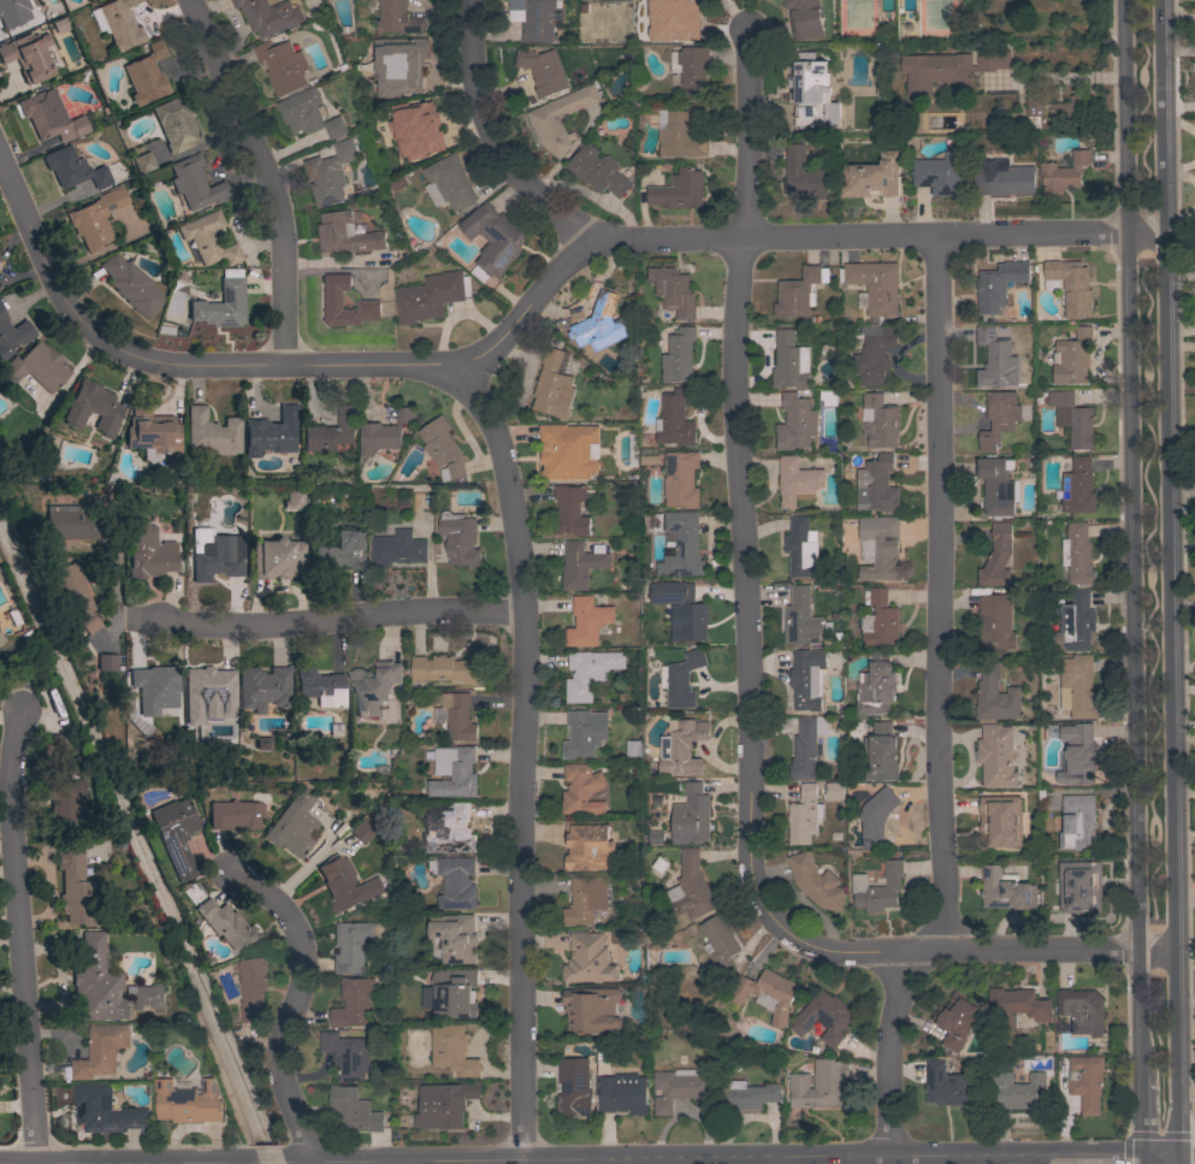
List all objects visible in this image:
building: (587, 0)
building: (13, 12)
building: (268, 16)
building: (398, 18)
building: (536, 18)
building: (804, 18)
building: (673, 20)
building: (120, 24)
building: (28, 57)
building: (398, 65)
building: (283, 66)
building: (691, 69)
building: (948, 70)
building: (543, 71)
building: (147, 75)
road: (1069, 78)
building: (812, 93)
building: (1034, 101)
building: (1066, 107)
building: (307, 114)
building: (49, 117)
building: (560, 118)
building: (176, 124)
building: (422, 125)
building: (684, 132)
road: (487, 138)
building: (143, 164)
building: (72, 170)
building: (597, 171)
building: (330, 173)
building: (804, 173)
building: (939, 173)
building: (1063, 173)
road: (265, 175)
building: (870, 177)
building: (1002, 178)
building: (195, 183)
building: (448, 183)
building: (679, 190)
building: (95, 219)
building: (345, 234)
building: (208, 240)
building: (492, 241)
road: (603, 242)
road: (41, 258)
building: (998, 284)
building: (131, 286)
building: (874, 286)
building: (1069, 286)
building: (673, 290)
building: (798, 293)
building: (431, 296)
building: (367, 305)
building: (220, 306)
building: (598, 324)
building: (12, 335)
building: (679, 355)
building: (995, 356)
building: (1071, 356)
building: (874, 358)
building: (789, 361)
building: (37, 367)
building: (551, 385)
building: (828, 397)
building: (93, 409)
building: (999, 418)
building: (1071, 418)
building: (675, 419)
building: (878, 421)
building: (795, 423)
building: (150, 431)
building: (331, 432)
building: (384, 432)
building: (212, 433)
building: (272, 433)
building: (443, 450)
building: (567, 451)
road: (738, 478)
building: (681, 479)
building: (797, 480)
building: (876, 485)
building: (995, 485)
building: (1077, 488)
building: (294, 500)
building: (572, 509)
building: (652, 522)
building: (76, 525)
building: (459, 538)
road: (1134, 538)
building: (681, 545)
building: (878, 546)
building: (800, 548)
building: (397, 549)
building: (342, 551)
building: (148, 554)
building: (1077, 554)
building: (996, 557)
building: (277, 559)
building: (217, 560)
building: (580, 565)
road: (1167, 578)
road: (937, 593)
building: (73, 595)
building: (694, 609)
building: (801, 618)
road: (337, 619)
building: (878, 619)
building: (587, 621)
building: (995, 622)
building: (1075, 622)
building: (1, 640)
building: (106, 663)
building: (445, 668)
building: (590, 673)
building: (807, 679)
building: (681, 680)
building: (209, 683)
building: (152, 685)
building: (876, 685)
building: (1078, 686)
building: (262, 687)
building: (320, 687)
building: (372, 690)
building: (995, 698)
building: (459, 716)
building: (582, 734)
building: (51, 744)
building: (807, 745)
building: (682, 748)
building: (633, 749)
building: (880, 754)
building: (996, 756)
building: (1081, 756)
road: (521, 761)
building: (452, 772)
building: (581, 790)
building: (834, 791)
building: (1028, 798)
building: (64, 804)
building: (235, 815)
building: (691, 815)
building: (804, 815)
building: (876, 817)
building: (993, 822)
building: (1078, 823)
building: (292, 827)
building: (367, 827)
building: (449, 831)
building: (176, 835)
building: (587, 845)
building: (456, 882)
building: (815, 882)
building: (348, 887)
building: (691, 887)
building: (877, 887)
building: (1079, 887)
building: (1005, 890)
building: (77, 892)
building: (585, 900)
building: (226, 926)
building: (455, 936)
road: (19, 939)
building: (353, 945)
building: (718, 947)
road: (971, 952)
building: (587, 959)
building: (97, 983)
building: (252, 987)
building: (454, 993)
building: (767, 994)
building: (147, 997)
building: (353, 1003)
road: (294, 1004)
building: (1016, 1006)
building: (591, 1010)
building: (1082, 1010)
building: (823, 1017)
building: (957, 1018)
building: (452, 1050)
building: (99, 1051)
building: (347, 1054)
road: (889, 1056)
building: (1085, 1082)
building: (820, 1085)
building: (948, 1085)
building: (573, 1088)
building: (678, 1088)
building: (1016, 1091)
building: (622, 1093)
building: (743, 1095)
building: (188, 1101)
building: (444, 1104)
building: (105, 1110)
building: (353, 1110)
road: (1142, 1117)
road: (1187, 1156)
road: (1160, 1157)
road: (1143, 1160)
road: (1178, 1160)
road: (833, 1162)
road: (271, 1163)
road: (296, 1163)
road: (842, 1163)

